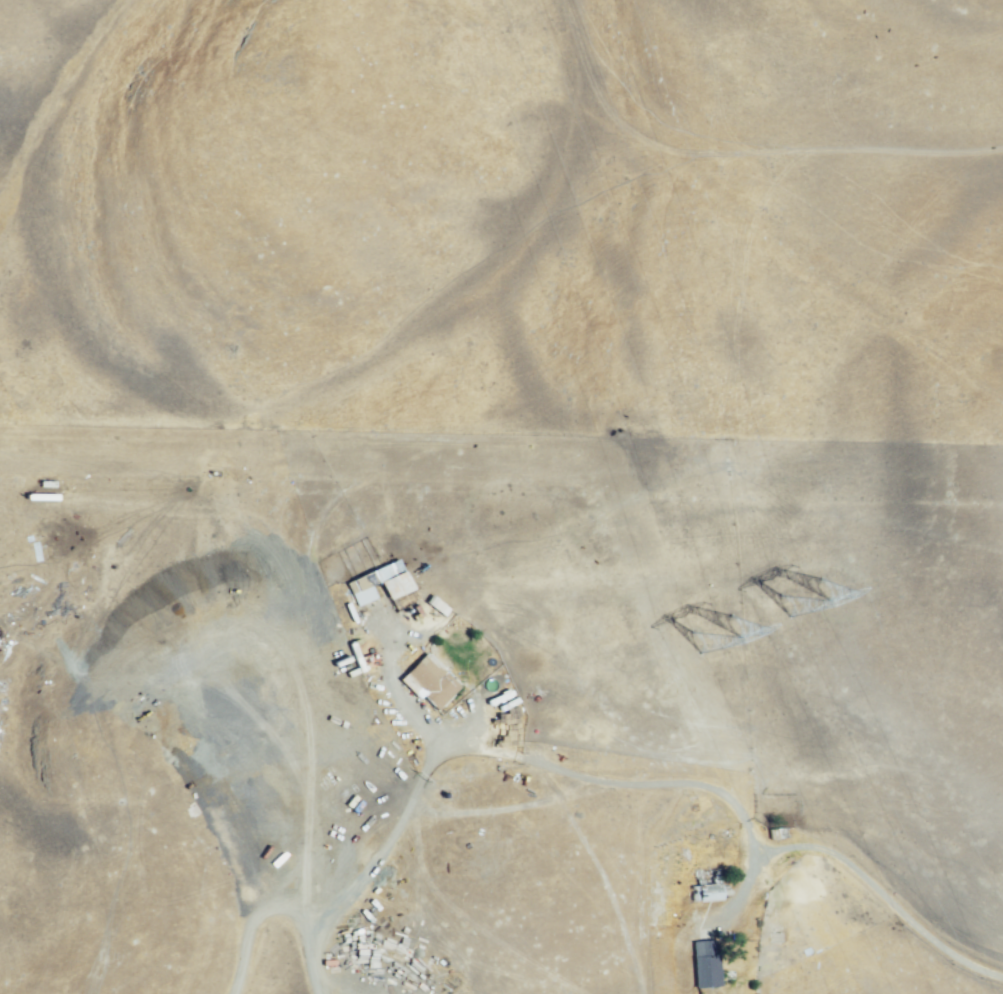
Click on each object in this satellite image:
building: (32, 549)
building: (365, 579)
power tower: (811, 590)
power tower: (706, 631)
building: (425, 683)
road: (613, 783)
building: (774, 834)
building: (704, 886)
road: (257, 920)
building: (703, 964)

